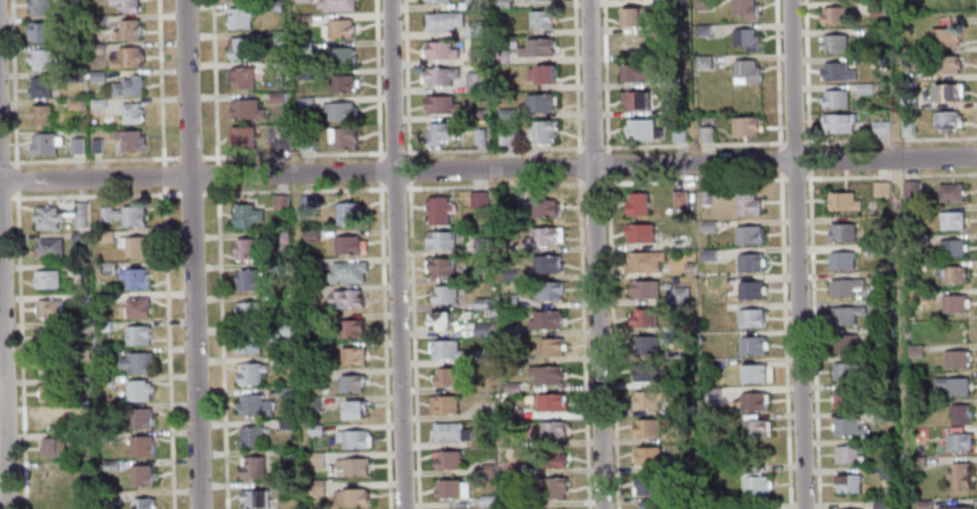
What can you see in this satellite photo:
building: (435, 0)
building: (539, 0)
building: (302, 1)
building: (502, 3)
building: (471, 4)
building: (704, 4)
building: (125, 5)
building: (335, 5)
building: (274, 6)
building: (39, 7)
building: (748, 9)
building: (875, 9)
building: (636, 15)
building: (833, 15)
building: (240, 17)
building: (540, 19)
building: (301, 20)
building: (443, 20)
building: (71, 21)
building: (95, 22)
building: (339, 29)
building: (473, 29)
building: (127, 30)
building: (704, 30)
building: (42, 32)
building: (874, 34)
building: (275, 37)
building: (942, 38)
building: (748, 39)
building: (832, 43)
building: (637, 45)
building: (303, 47)
building: (536, 47)
building: (96, 48)
building: (239, 48)
building: (73, 49)
building: (440, 50)
building: (340, 56)
building: (474, 56)
building: (499, 56)
building: (125, 58)
building: (41, 59)
building: (705, 62)
building: (877, 62)
building: (942, 64)
building: (640, 71)
building: (836, 71)
building: (748, 72)
building: (305, 74)
building: (541, 74)
building: (74, 76)
building: (97, 76)
building: (440, 76)
road: (574, 76)
building: (241, 77)
road: (404, 79)
road: (375, 80)
building: (474, 81)
road: (779, 81)
road: (213, 82)
road: (158, 83)
road: (605, 83)
building: (341, 84)
road: (12, 85)
building: (128, 86)
building: (39, 87)
building: (864, 89)
building: (945, 92)
building: (277, 97)
building: (637, 99)
building: (834, 100)
building: (908, 100)
building: (305, 102)
building: (539, 102)
building: (97, 103)
building: (75, 104)
building: (440, 104)
building: (245, 109)
building: (339, 111)
building: (130, 112)
building: (39, 114)
building: (476, 114)
building: (506, 114)
building: (946, 118)
building: (837, 124)
building: (748, 125)
building: (644, 129)
building: (880, 129)
building: (906, 129)
building: (543, 131)
building: (439, 133)
building: (681, 134)
building: (708, 134)
building: (479, 136)
building: (240, 137)
building: (342, 137)
building: (507, 137)
building: (128, 139)
building: (277, 139)
building: (44, 143)
building: (306, 144)
building: (76, 145)
building: (96, 145)
road: (579, 149)
road: (592, 149)
road: (604, 149)
road: (489, 151)
road: (392, 153)
road: (291, 155)
road: (188, 158)
road: (92, 159)
road: (3, 162)
road: (577, 166)
road: (407, 170)
road: (488, 170)
road: (378, 171)
road: (215, 175)
road: (161, 176)
road: (15, 180)
road: (280, 184)
road: (305, 184)
road: (588, 184)
road: (493, 186)
road: (393, 188)
building: (883, 188)
road: (344, 189)
building: (911, 189)
road: (239, 192)
building: (950, 192)
road: (188, 193)
road: (92, 195)
building: (704, 196)
road: (4, 198)
building: (478, 199)
building: (679, 199)
building: (847, 201)
building: (280, 202)
building: (747, 202)
building: (308, 203)
building: (637, 204)
building: (543, 208)
building: (438, 211)
building: (348, 213)
building: (79, 215)
building: (123, 215)
building: (245, 215)
building: (46, 217)
building: (950, 220)
building: (708, 225)
building: (844, 232)
building: (639, 233)
building: (747, 234)
building: (104, 235)
building: (310, 235)
building: (546, 235)
building: (78, 237)
building: (280, 237)
building: (920, 239)
building: (440, 240)
building: (347, 244)
building: (480, 245)
building: (133, 246)
building: (508, 246)
building: (48, 247)
building: (952, 248)
building: (875, 249)
building: (247, 250)
road: (192, 254)
road: (395, 254)
road: (595, 254)
building: (708, 254)
road: (796, 254)
road: (812, 254)
building: (844, 259)
building: (644, 262)
building: (749, 262)
building: (313, 263)
building: (547, 263)
building: (440, 266)
building: (78, 267)
building: (106, 268)
building: (281, 268)
building: (688, 269)
building: (347, 272)
building: (481, 274)
building: (951, 274)
building: (509, 275)
building: (46, 278)
building: (134, 278)
building: (251, 280)
building: (846, 286)
building: (644, 289)
building: (548, 290)
building: (750, 290)
building: (444, 294)
building: (680, 294)
building: (926, 295)
building: (346, 298)
building: (80, 299)
building: (281, 299)
building: (509, 301)
building: (954, 303)
building: (481, 304)
building: (886, 304)
building: (135, 307)
building: (47, 308)
building: (248, 311)
building: (846, 314)
building: (643, 317)
building: (749, 317)
building: (440, 320)
building: (545, 320)
building: (680, 325)
building: (102, 326)
building: (81, 327)
building: (350, 328)
building: (283, 330)
building: (481, 330)
building: (510, 330)
building: (887, 331)
building: (137, 335)
building: (48, 336)
building: (248, 343)
road: (582, 343)
building: (846, 343)
road: (383, 345)
road: (411, 345)
building: (645, 345)
building: (752, 345)
building: (312, 346)
road: (220, 347)
building: (550, 347)
road: (166, 348)
building: (445, 349)
road: (19, 350)
building: (915, 350)
building: (682, 353)
building: (81, 354)
building: (103, 354)
building: (352, 356)
building: (482, 357)
building: (955, 358)
building: (872, 359)
building: (283, 361)
building: (135, 362)
building: (49, 364)
building: (846, 371)
building: (643, 372)
building: (250, 373)
building: (755, 373)
building: (544, 374)
building: (446, 377)
building: (918, 380)
building: (105, 381)
building: (82, 382)
building: (351, 383)
building: (953, 385)
building: (513, 387)
building: (882, 389)
building: (137, 390)
building: (285, 392)
building: (52, 393)
road: (2, 395)
building: (713, 397)
building: (845, 398)
building: (649, 400)
building: (753, 401)
building: (551, 402)
building: (311, 404)
building: (443, 404)
building: (254, 405)
building: (683, 408)
building: (353, 409)
building: (959, 413)
building: (513, 414)
building: (885, 415)
building: (139, 418)
building: (50, 420)
building: (285, 423)
building: (647, 426)
building: (849, 426)
building: (755, 428)
building: (314, 430)
building: (551, 430)
building: (450, 432)
building: (919, 433)
building: (83, 436)
building: (250, 436)
building: (106, 438)
building: (353, 439)
building: (880, 441)
building: (958, 442)
building: (141, 446)
building: (51, 447)
building: (716, 450)
building: (850, 453)
building: (287, 455)
building: (649, 455)
building: (446, 459)
building: (551, 459)
building: (316, 460)
building: (917, 462)
building: (685, 464)
building: (109, 465)
building: (352, 466)
building: (251, 467)
building: (514, 469)
building: (890, 469)
building: (487, 470)
building: (959, 475)
building: (51, 476)
building: (140, 476)
building: (755, 479)
building: (850, 483)
building: (651, 486)
building: (315, 487)
building: (555, 487)
road: (790, 487)
building: (450, 488)
building: (107, 497)
building: (353, 497)
building: (253, 498)
building: (684, 498)
building: (486, 501)
building: (518, 502)
building: (142, 503)
building: (923, 504)
building: (882, 505)
building: (55, 506)
building: (955, 507)

